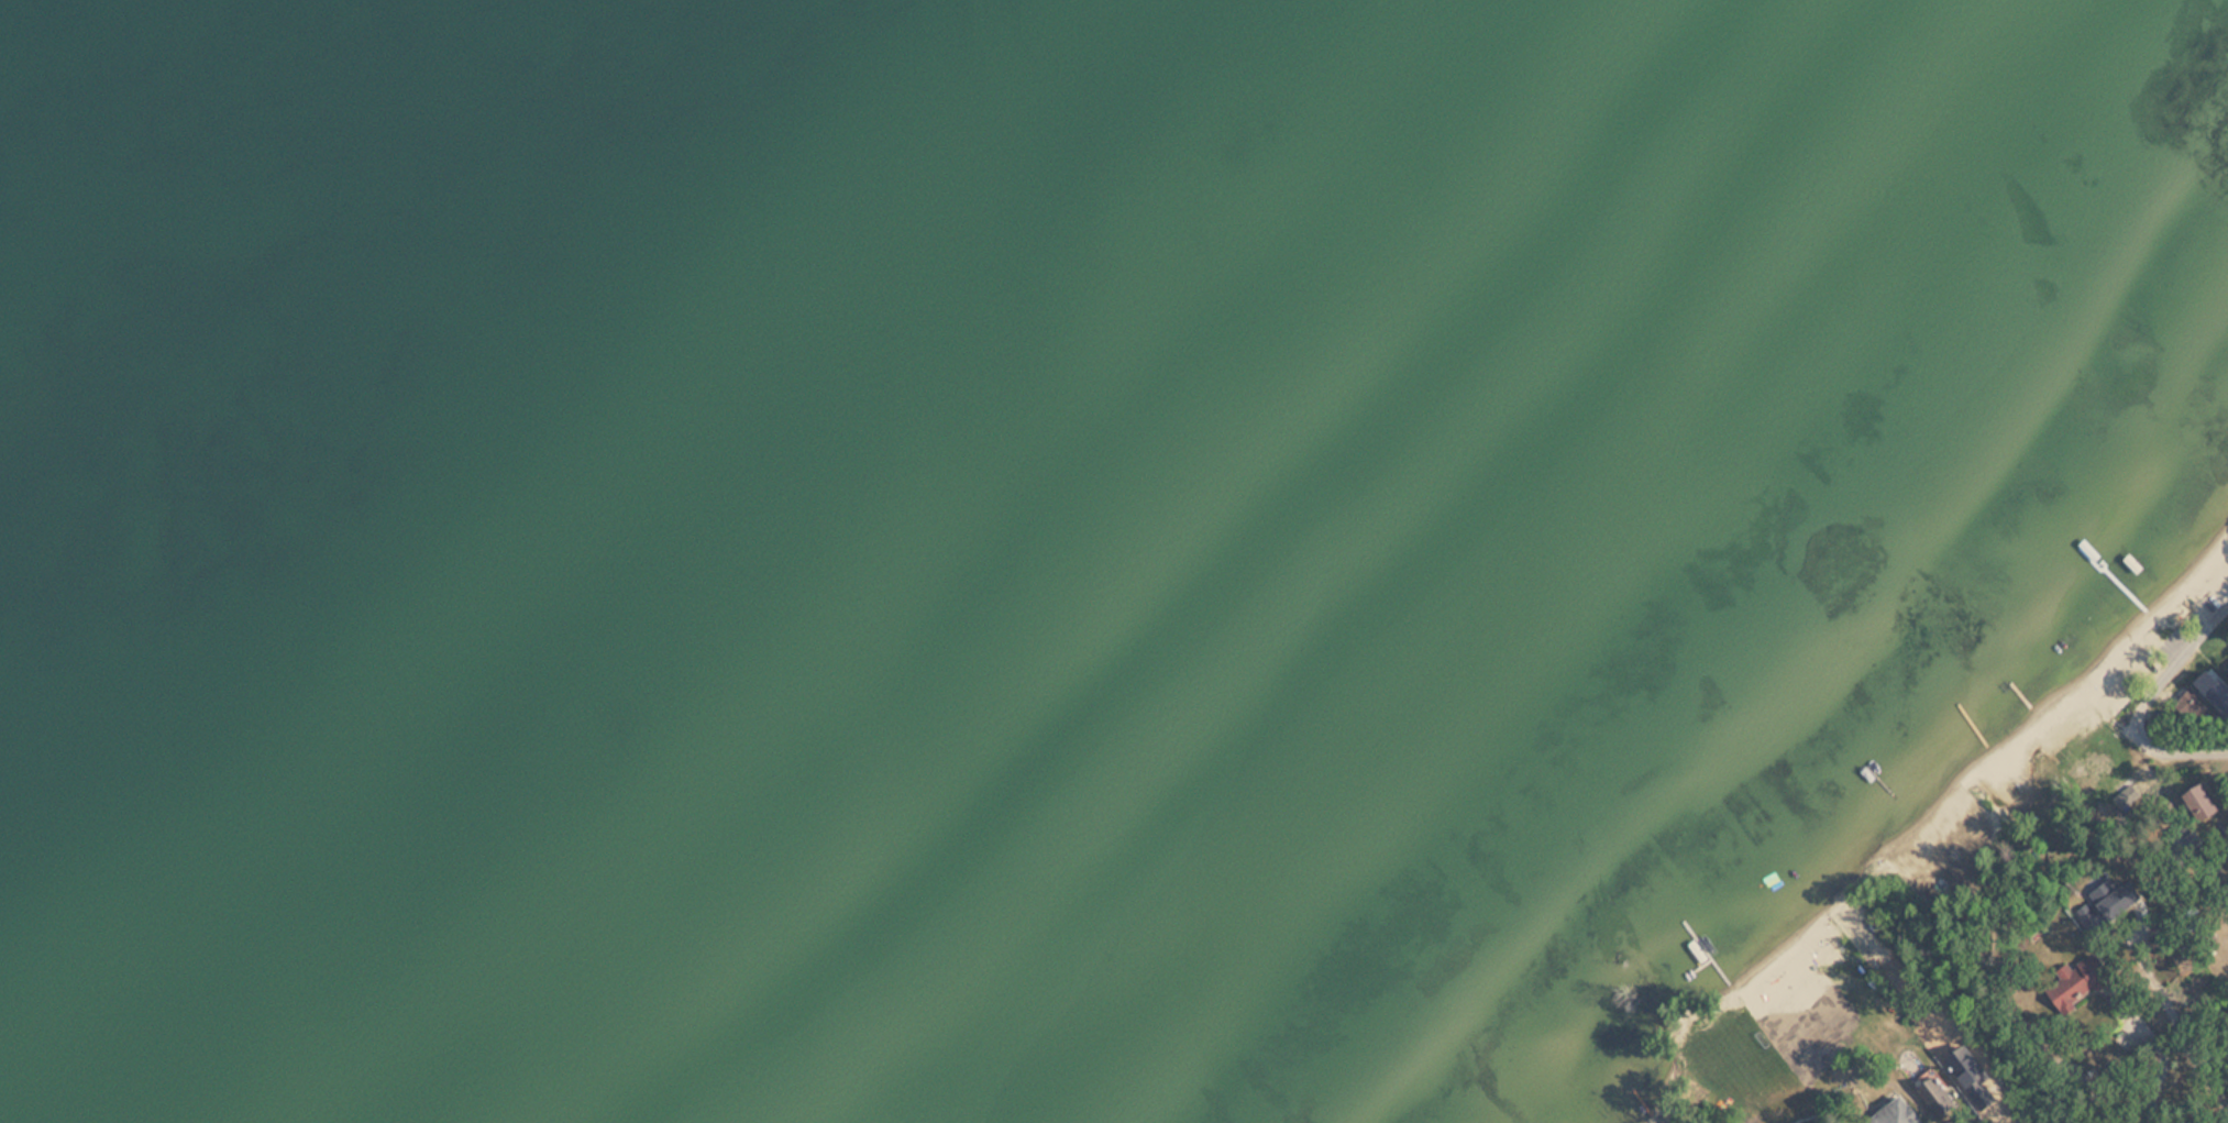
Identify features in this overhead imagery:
road: (2179, 662)
building: (2217, 690)
road: (2173, 747)
building: (2191, 803)
building: (2070, 979)
building: (1890, 1112)

